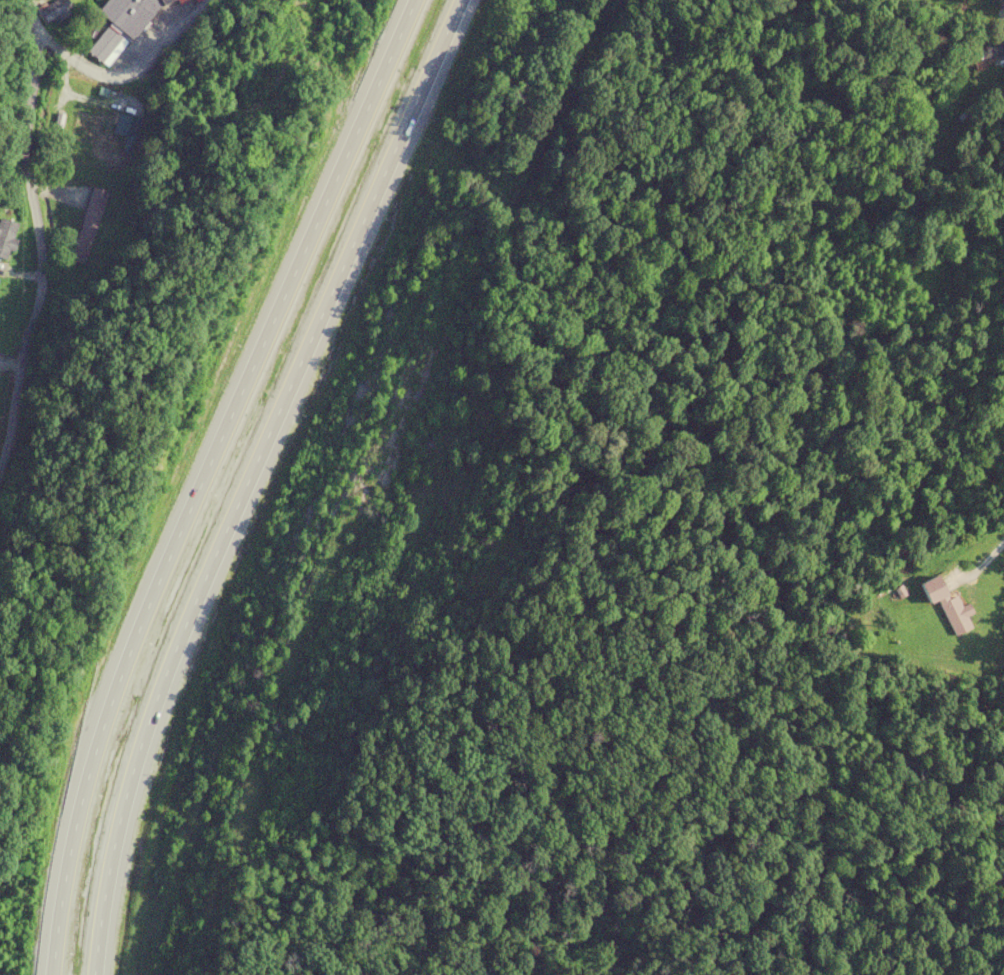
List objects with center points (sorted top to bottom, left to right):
building: (52, 12)
building: (130, 14)
building: (104, 46)
building: (987, 50)
road: (126, 73)
road: (59, 88)
building: (126, 129)
road: (59, 188)
building: (86, 225)
road: (37, 231)
building: (6, 237)
road: (199, 477)
road: (250, 477)
building: (956, 616)

